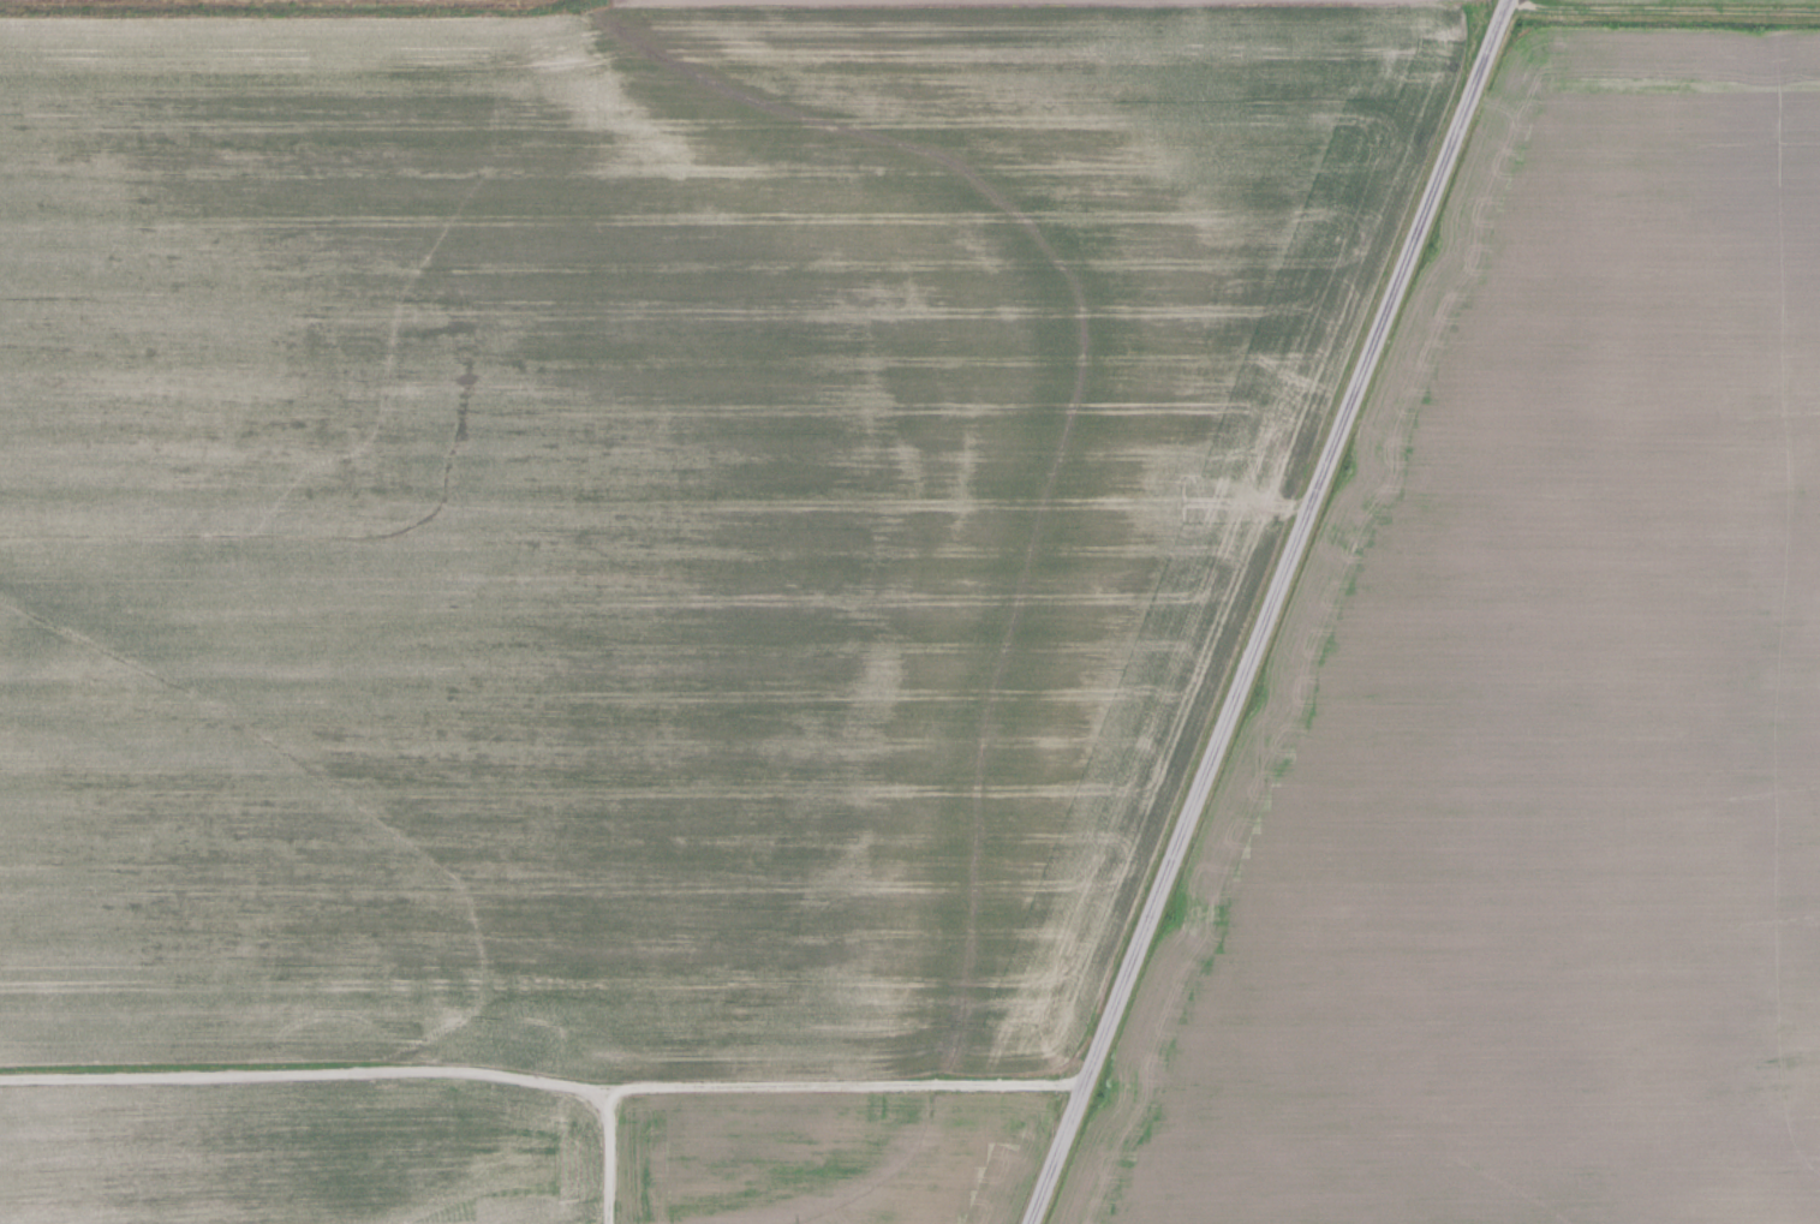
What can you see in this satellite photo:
road: (1629, 7)
road: (1212, 619)
road: (506, 1085)

